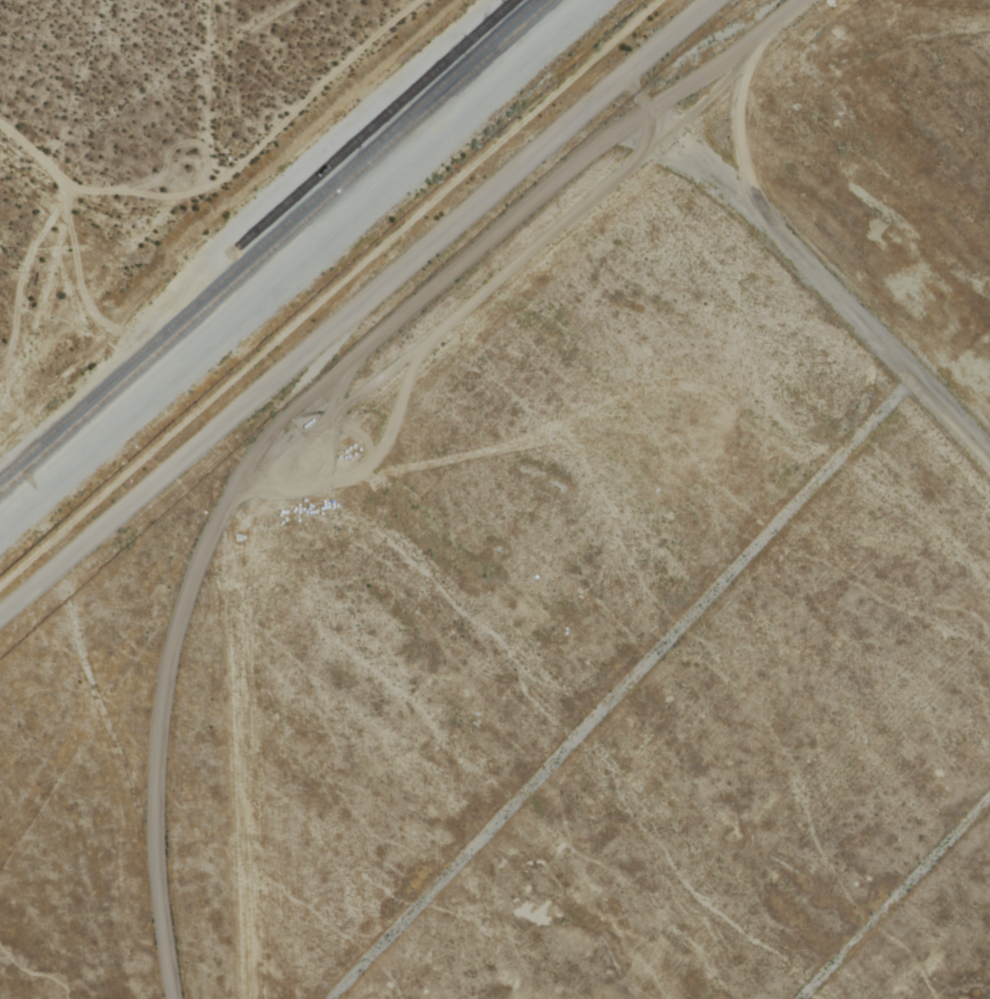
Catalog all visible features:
road: (206, 95)
railway: (384, 119)
railway: (271, 241)
railway: (278, 247)
road: (357, 310)
road: (300, 404)
airport: (558, 569)
airport apron: (645, 651)
road: (621, 689)

